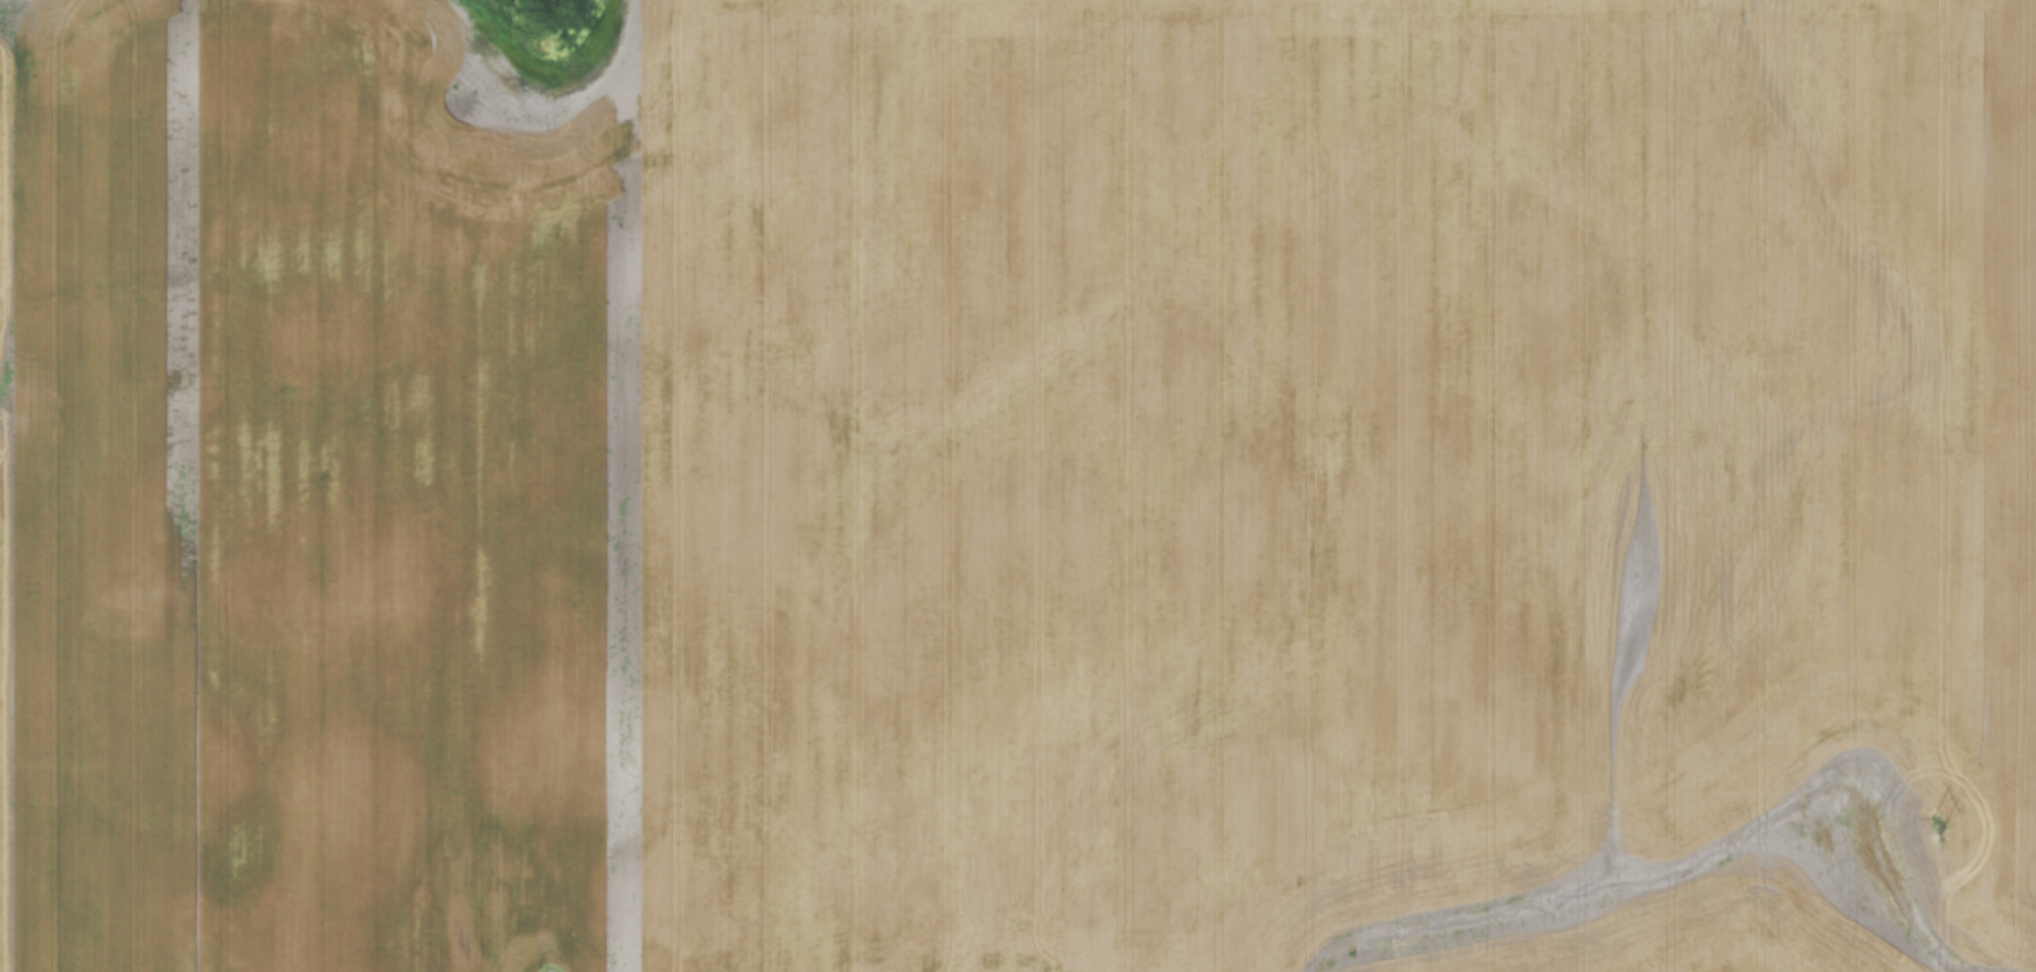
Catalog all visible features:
power tower: (1933, 823)

